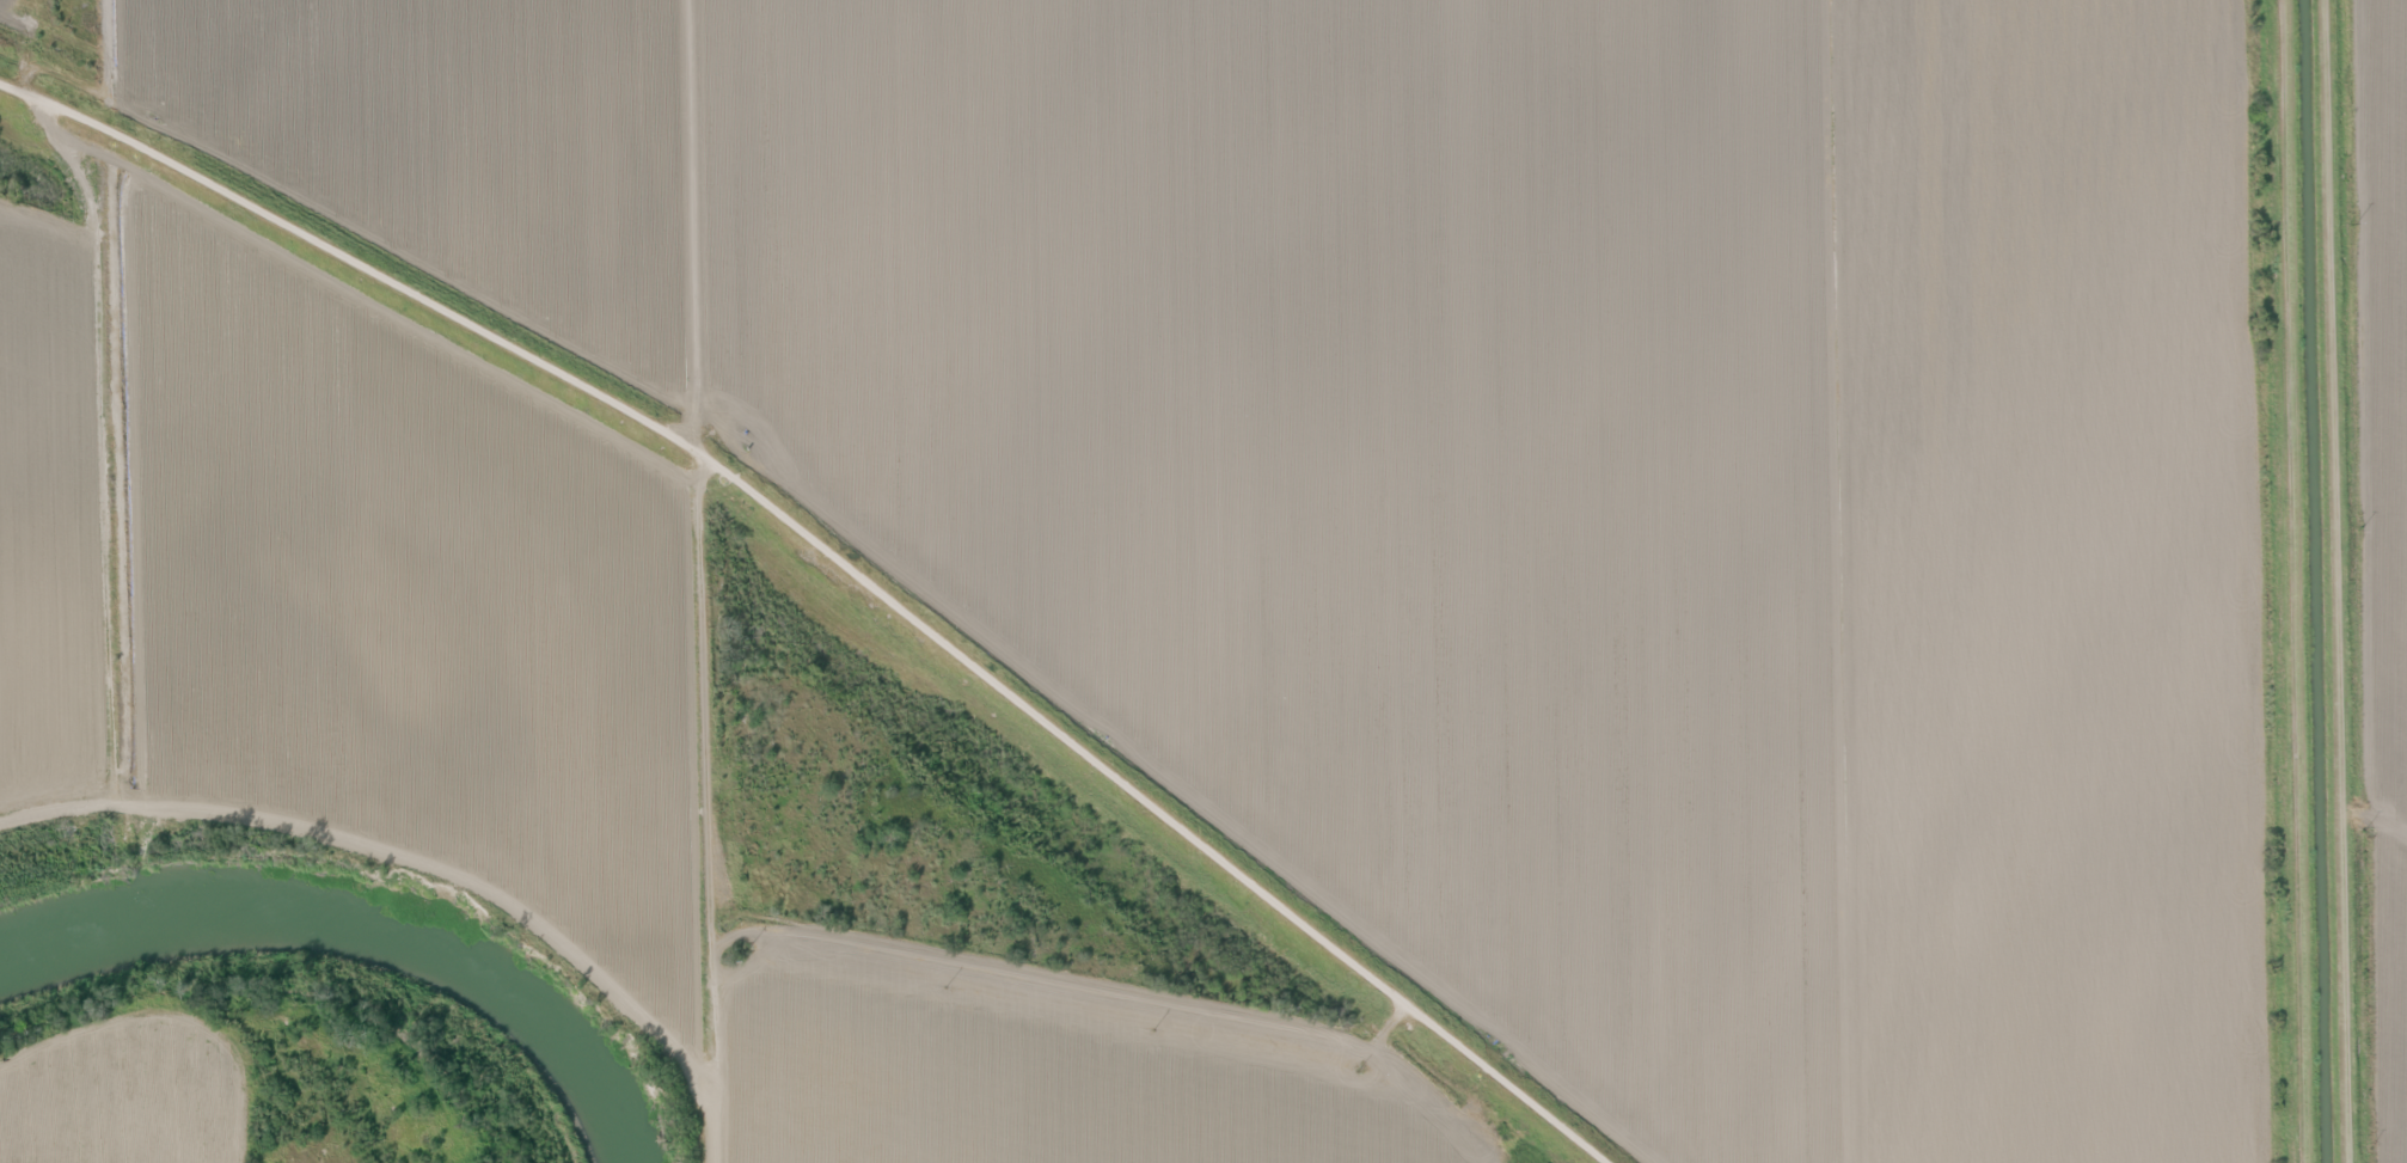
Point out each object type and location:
road: (835, 567)
river: (354, 929)

